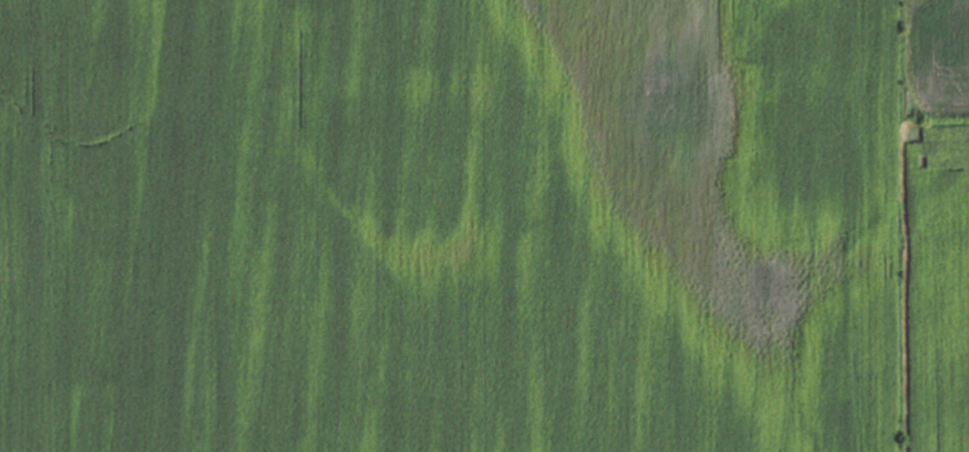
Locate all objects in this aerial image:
crop: (937, 55)

